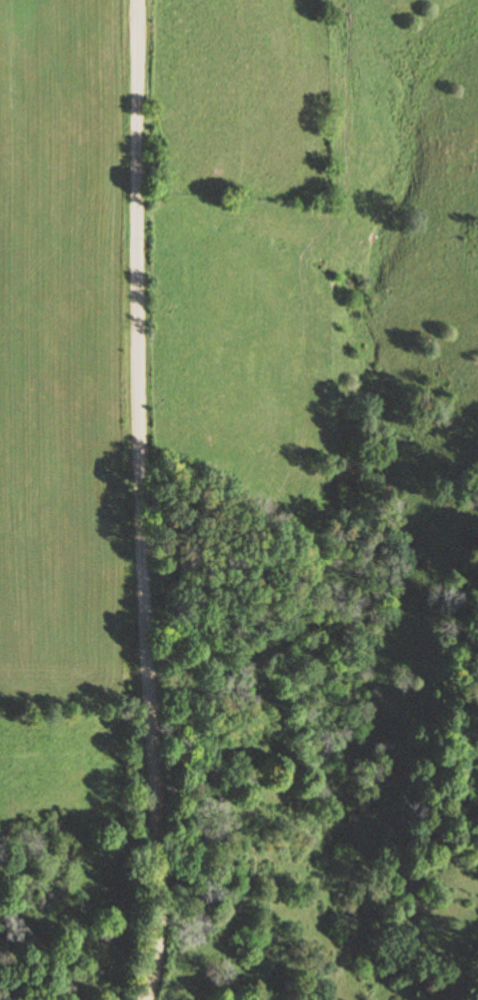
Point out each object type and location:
road: (145, 500)

